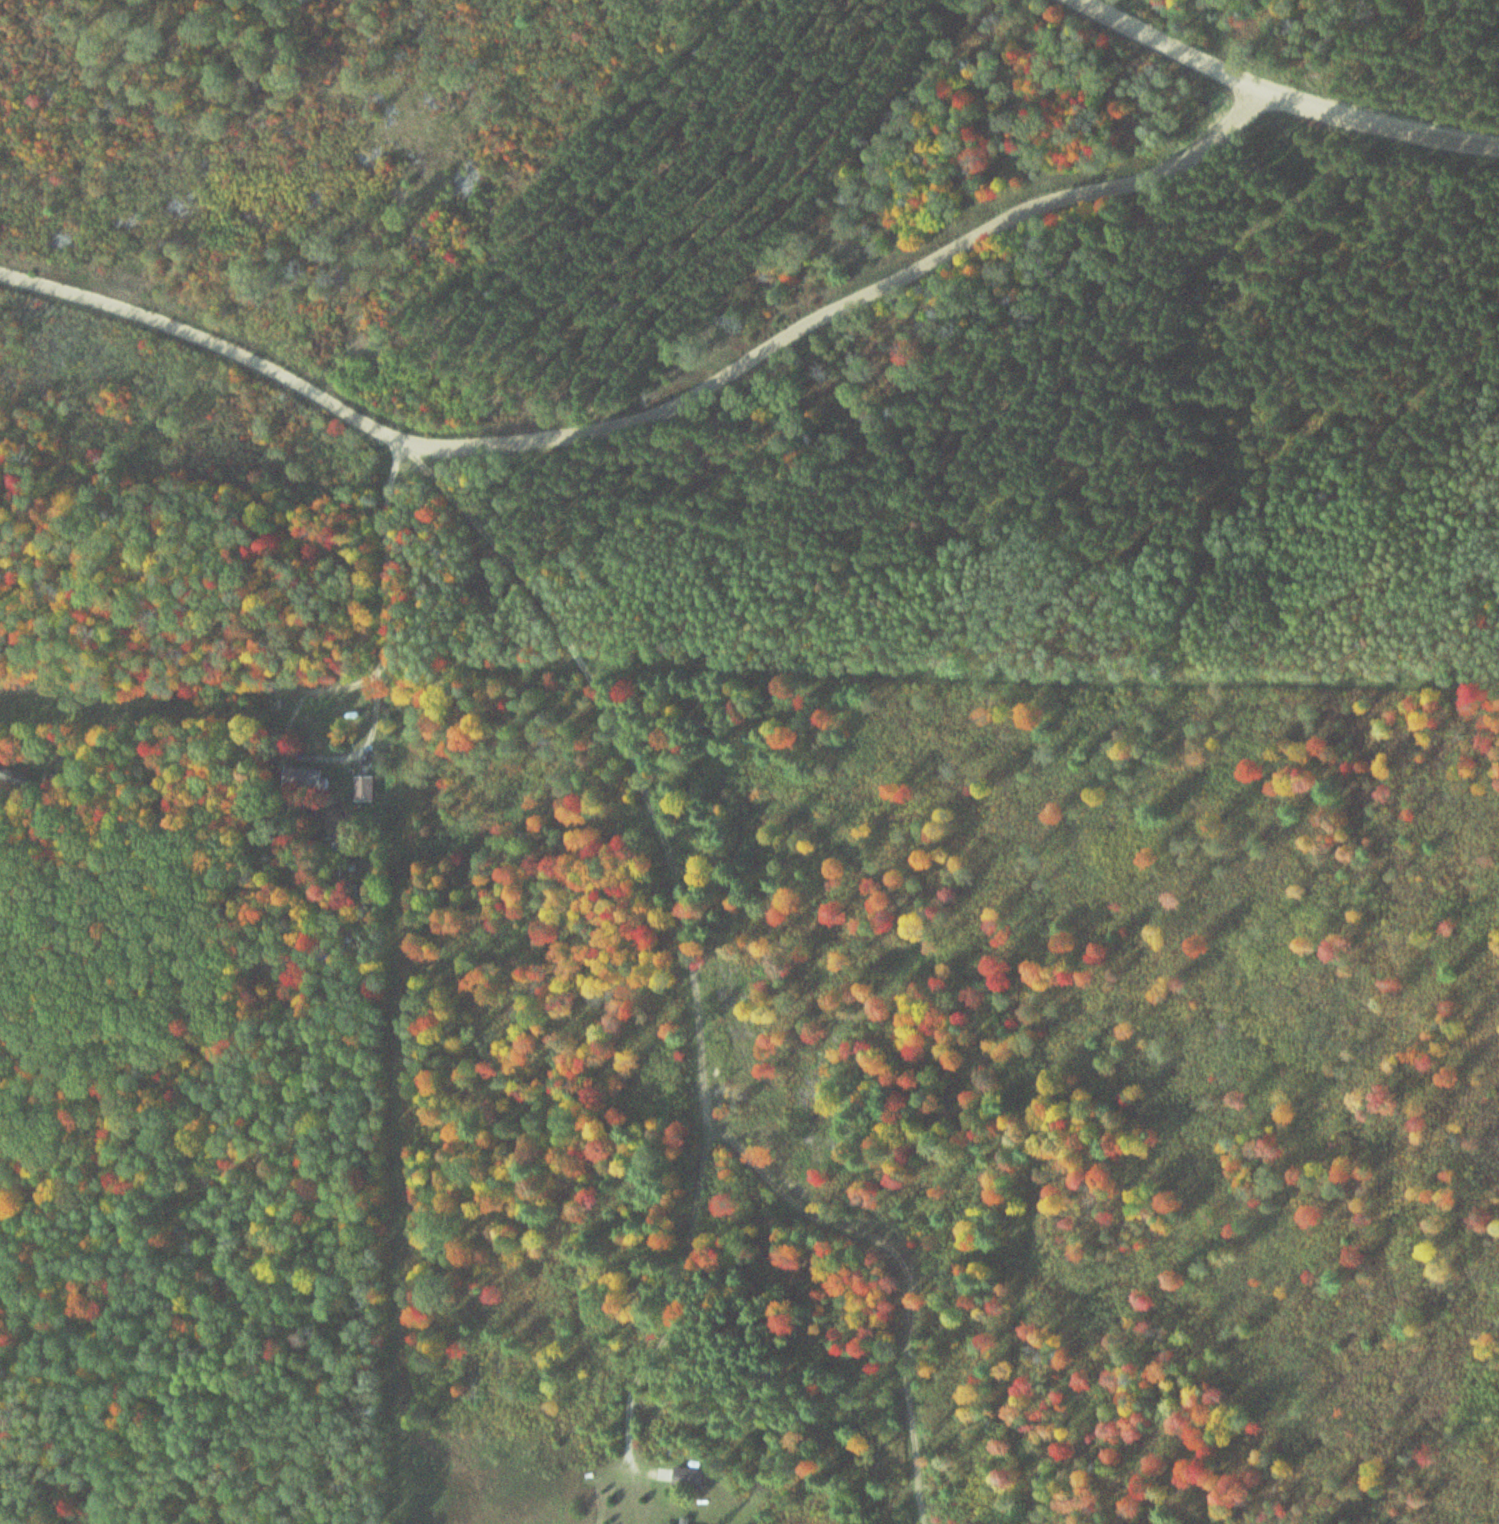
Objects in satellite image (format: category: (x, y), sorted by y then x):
road: (1162, 45)
road: (1374, 124)
road: (640, 395)
building: (308, 777)
building: (366, 788)
road: (703, 1004)
building: (692, 1478)

